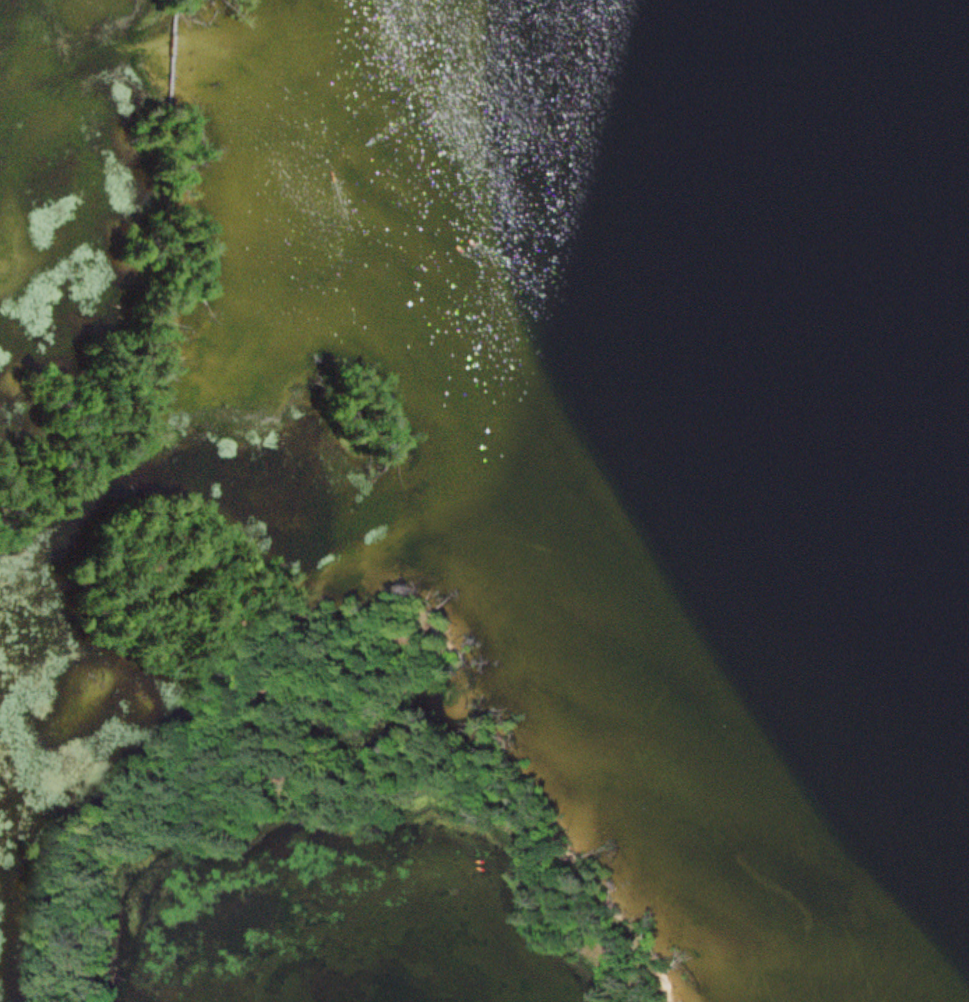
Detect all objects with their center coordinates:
road: (172, 52)
road: (146, 333)
park: (195, 572)

